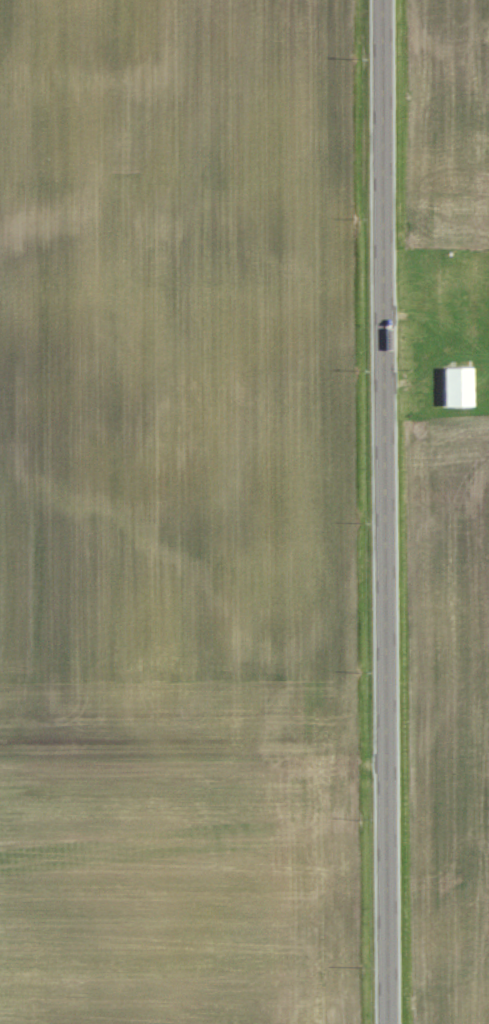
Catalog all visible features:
building: (458, 385)
road: (386, 512)

